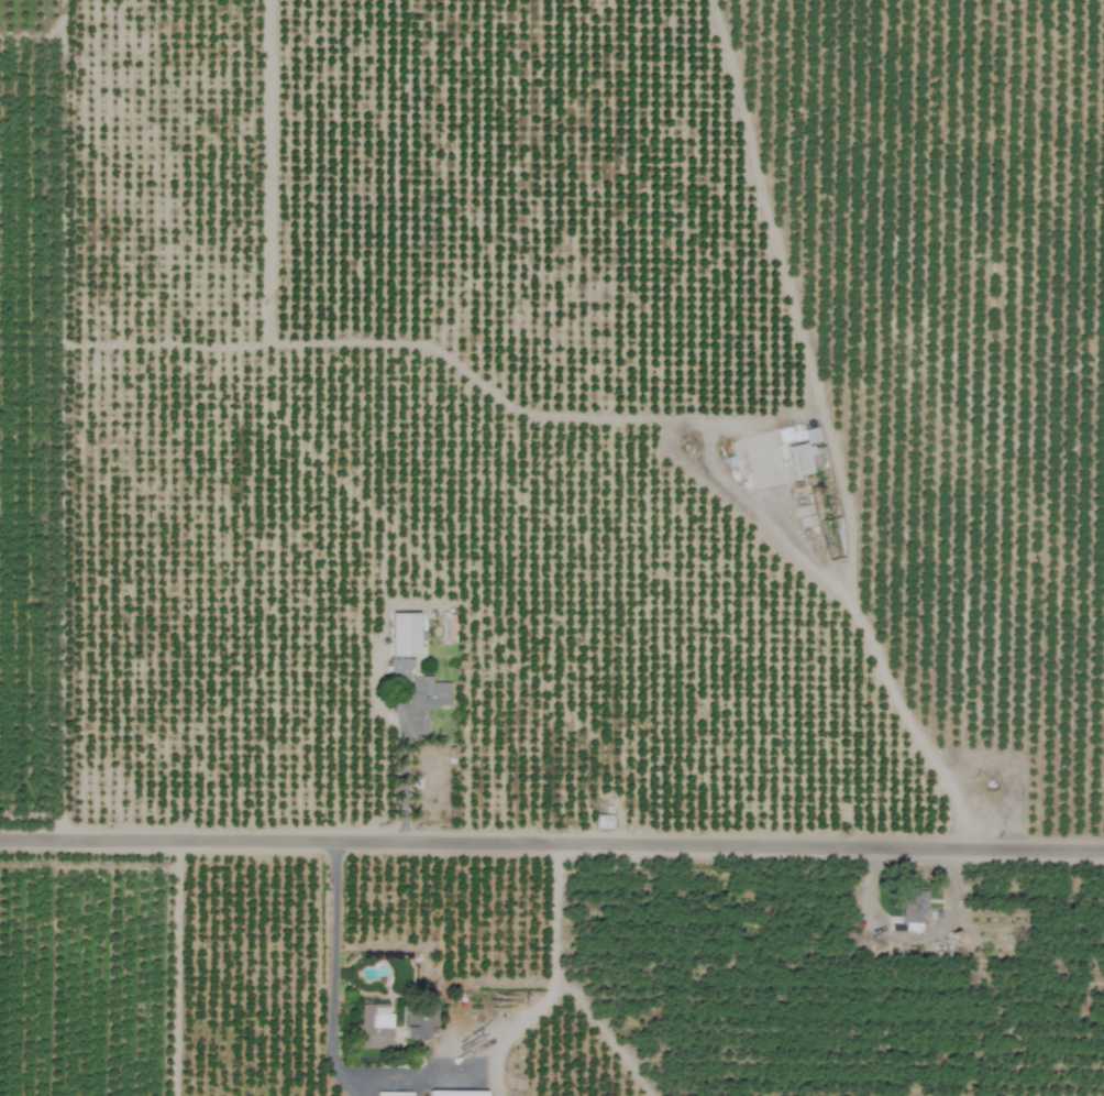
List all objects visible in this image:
building: (806, 452)
crop: (552, 548)
building: (402, 634)
road: (866, 648)
building: (398, 671)
building: (427, 693)
road: (404, 765)
building: (603, 821)
road: (552, 835)
building: (913, 907)
road: (554, 978)
road: (330, 1017)
building: (419, 1022)
building: (373, 1028)
building: (455, 1093)
building: (393, 1094)

